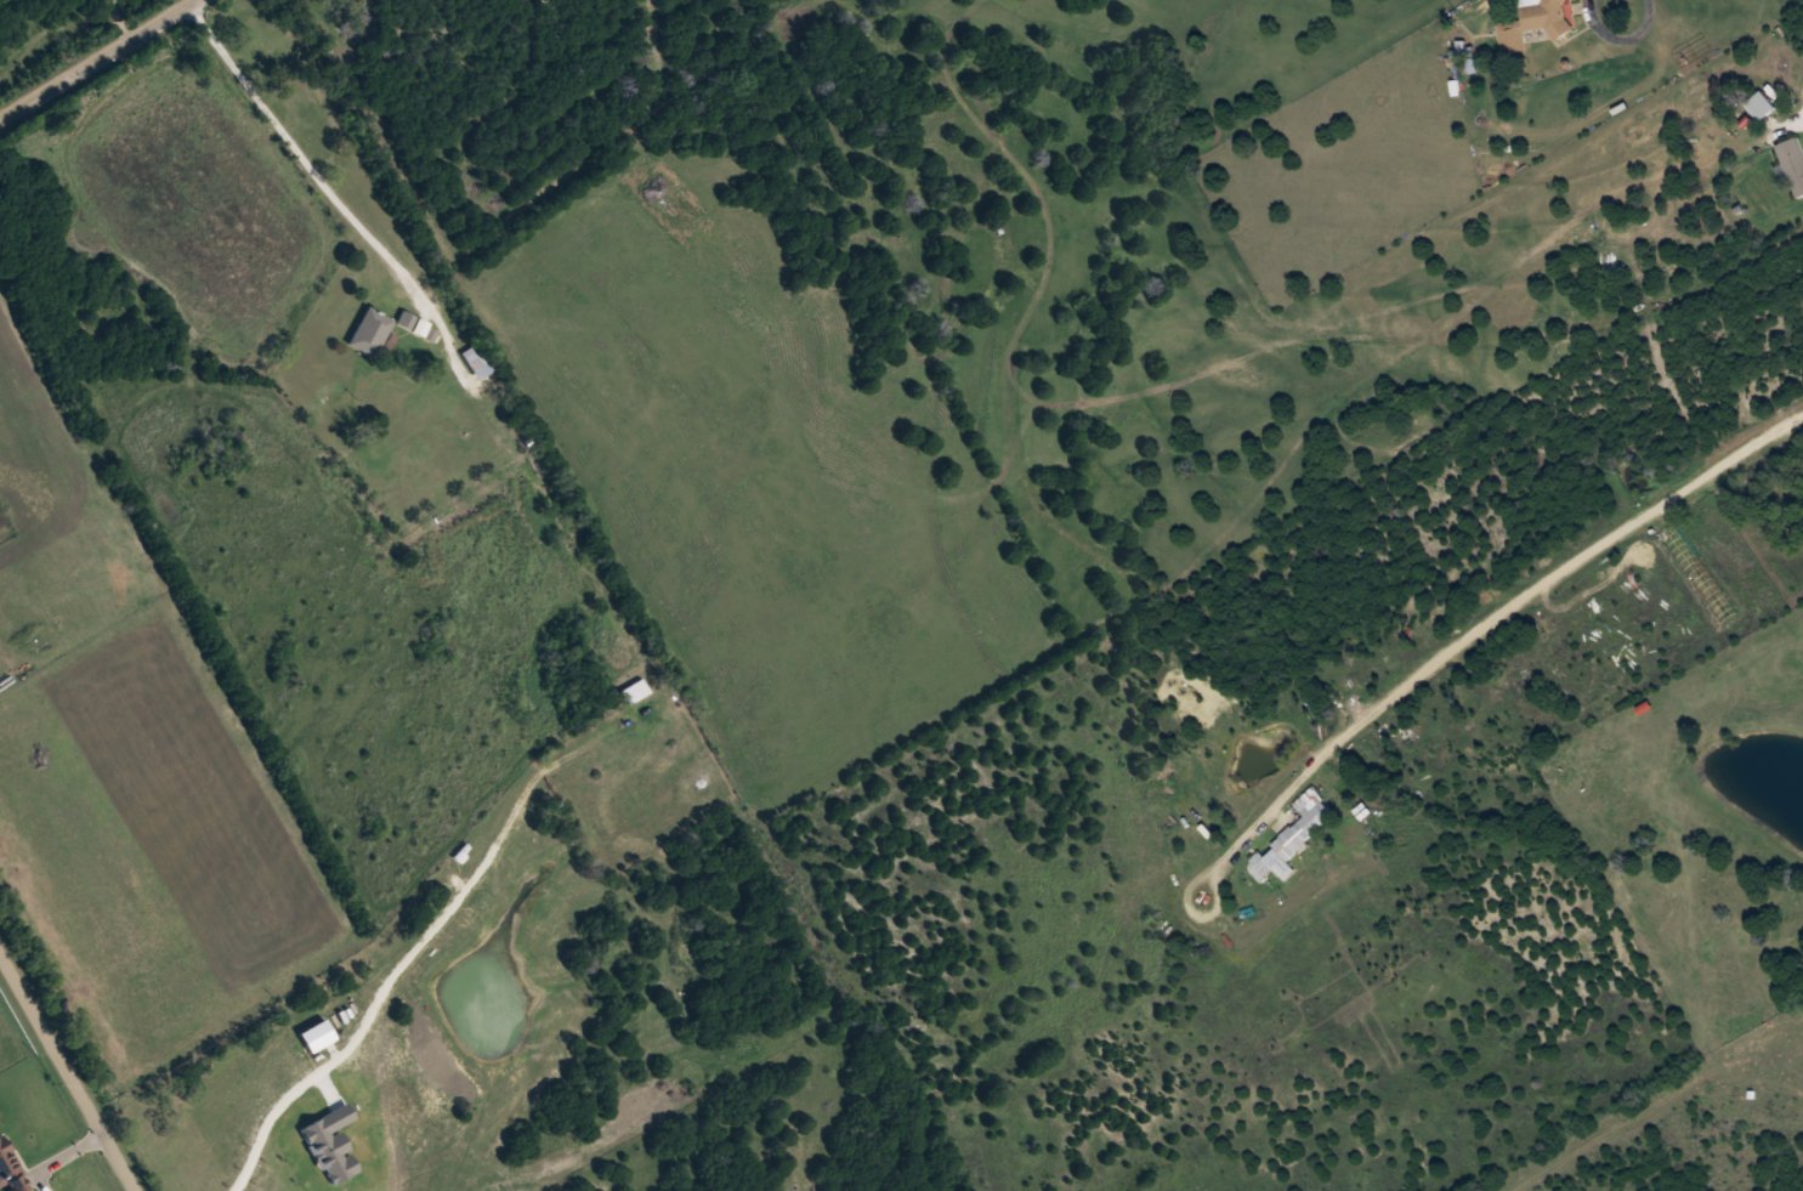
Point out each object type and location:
building: (1533, 22)
road: (95, 58)
building: (1761, 104)
building: (1793, 163)
building: (369, 333)
building: (474, 362)
building: (1697, 571)
building: (633, 694)
building: (1292, 836)
road: (68, 1072)

